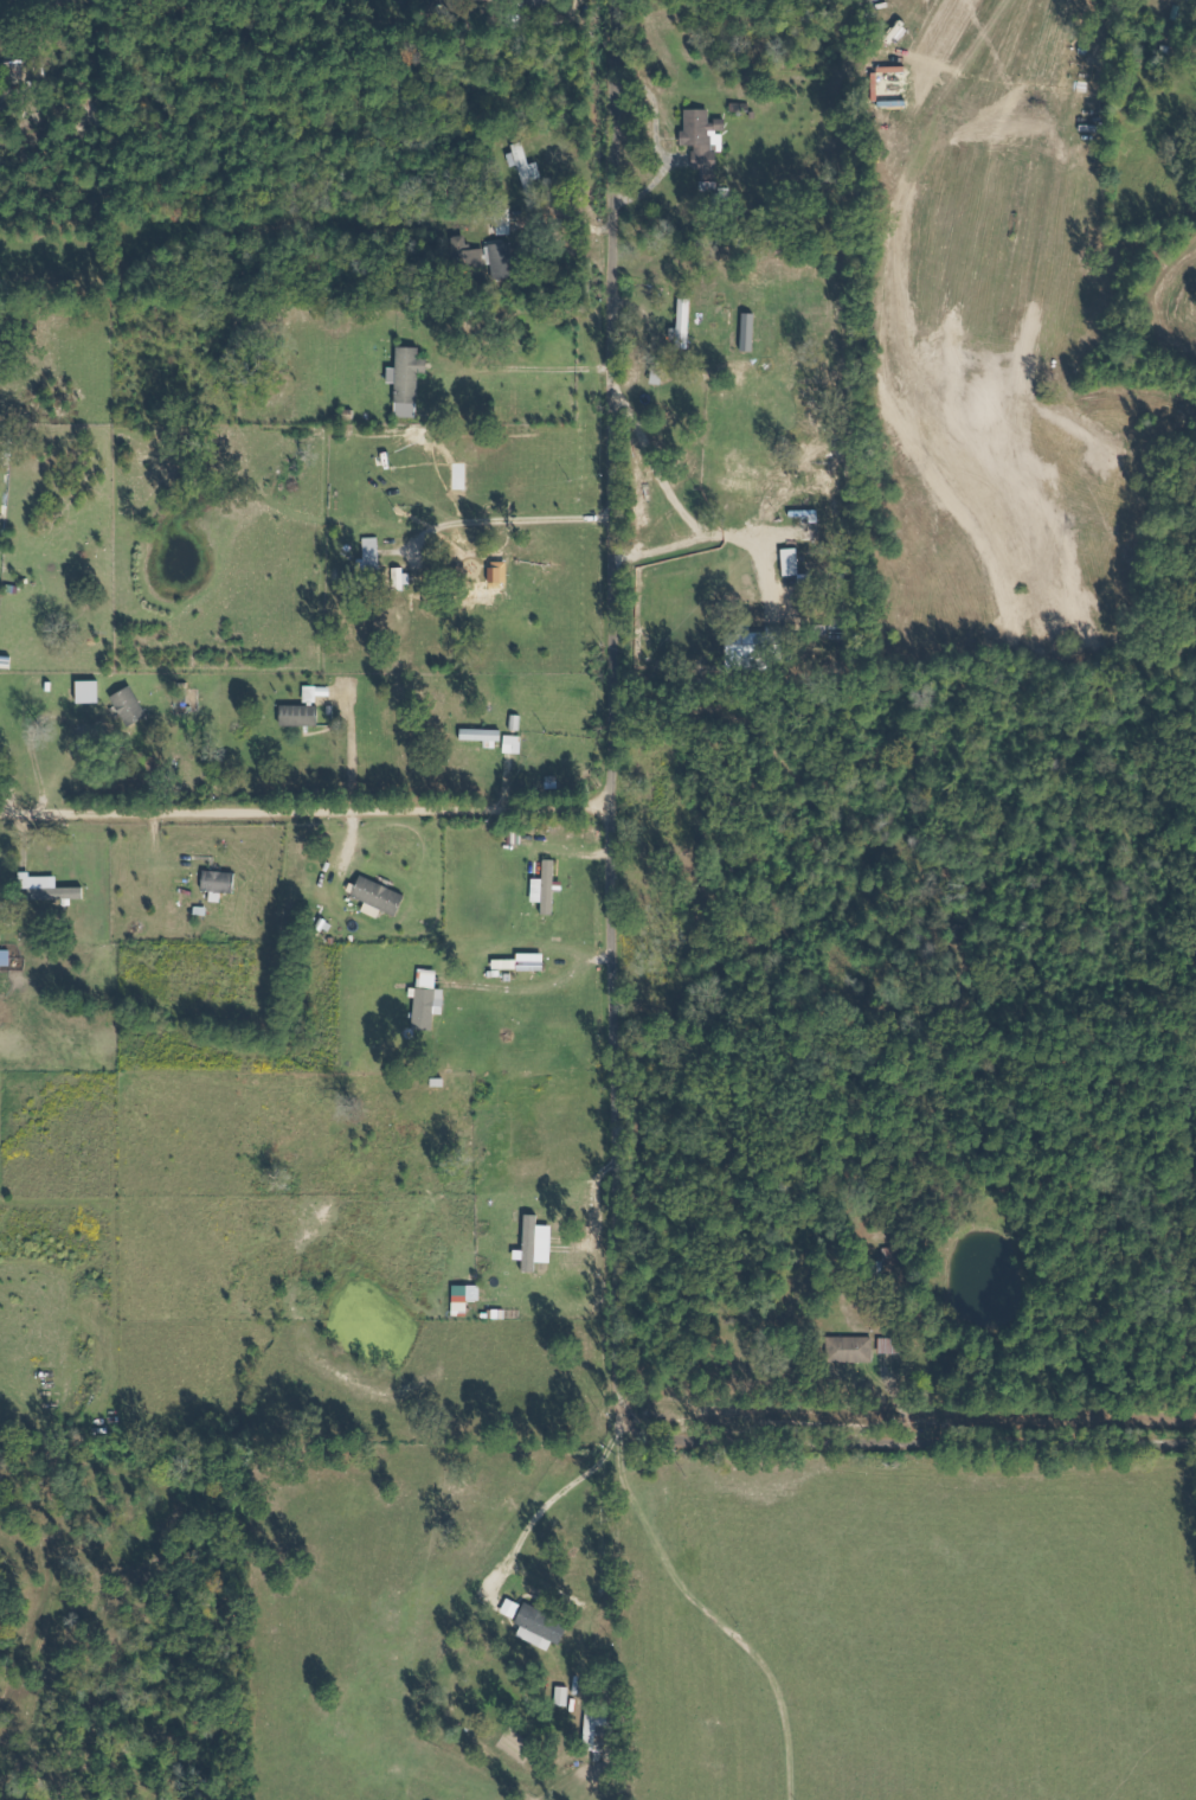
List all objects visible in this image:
building: (701, 133)
building: (526, 165)
building: (506, 223)
building: (471, 257)
building: (504, 258)
building: (409, 380)
building: (819, 518)
building: (757, 649)
building: (89, 692)
building: (131, 705)
building: (301, 716)
building: (482, 735)
road: (302, 811)
building: (220, 882)
building: (47, 888)
building: (547, 888)
building: (380, 895)
building: (6, 957)
road: (612, 997)
building: (427, 998)
building: (538, 1243)
building: (462, 1299)
building: (851, 1349)
building: (544, 1627)

